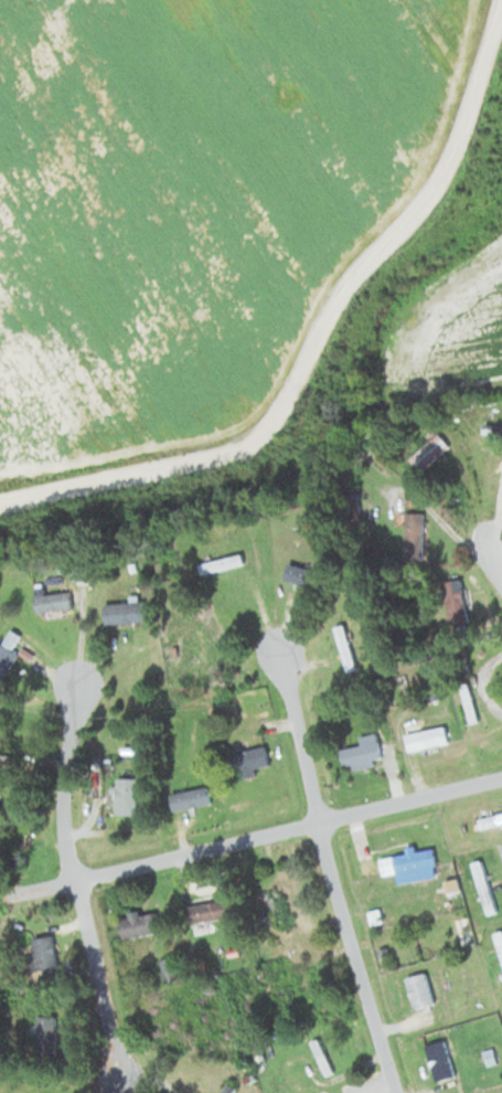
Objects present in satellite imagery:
building: (491, 429)
building: (427, 452)
building: (413, 535)
road: (499, 555)
building: (220, 562)
building: (299, 574)
building: (52, 601)
building: (453, 603)
building: (122, 611)
building: (197, 646)
building: (343, 646)
building: (7, 647)
building: (425, 736)
building: (360, 754)
building: (249, 756)
building: (121, 796)
building: (189, 797)
building: (491, 818)
road: (256, 835)
building: (408, 862)
road: (333, 871)
road: (67, 885)
building: (273, 903)
building: (209, 908)
building: (457, 910)
building: (138, 923)
building: (43, 949)
building: (168, 967)
building: (418, 988)
building: (174, 1019)
building: (45, 1032)
building: (439, 1060)
building: (227, 1087)

